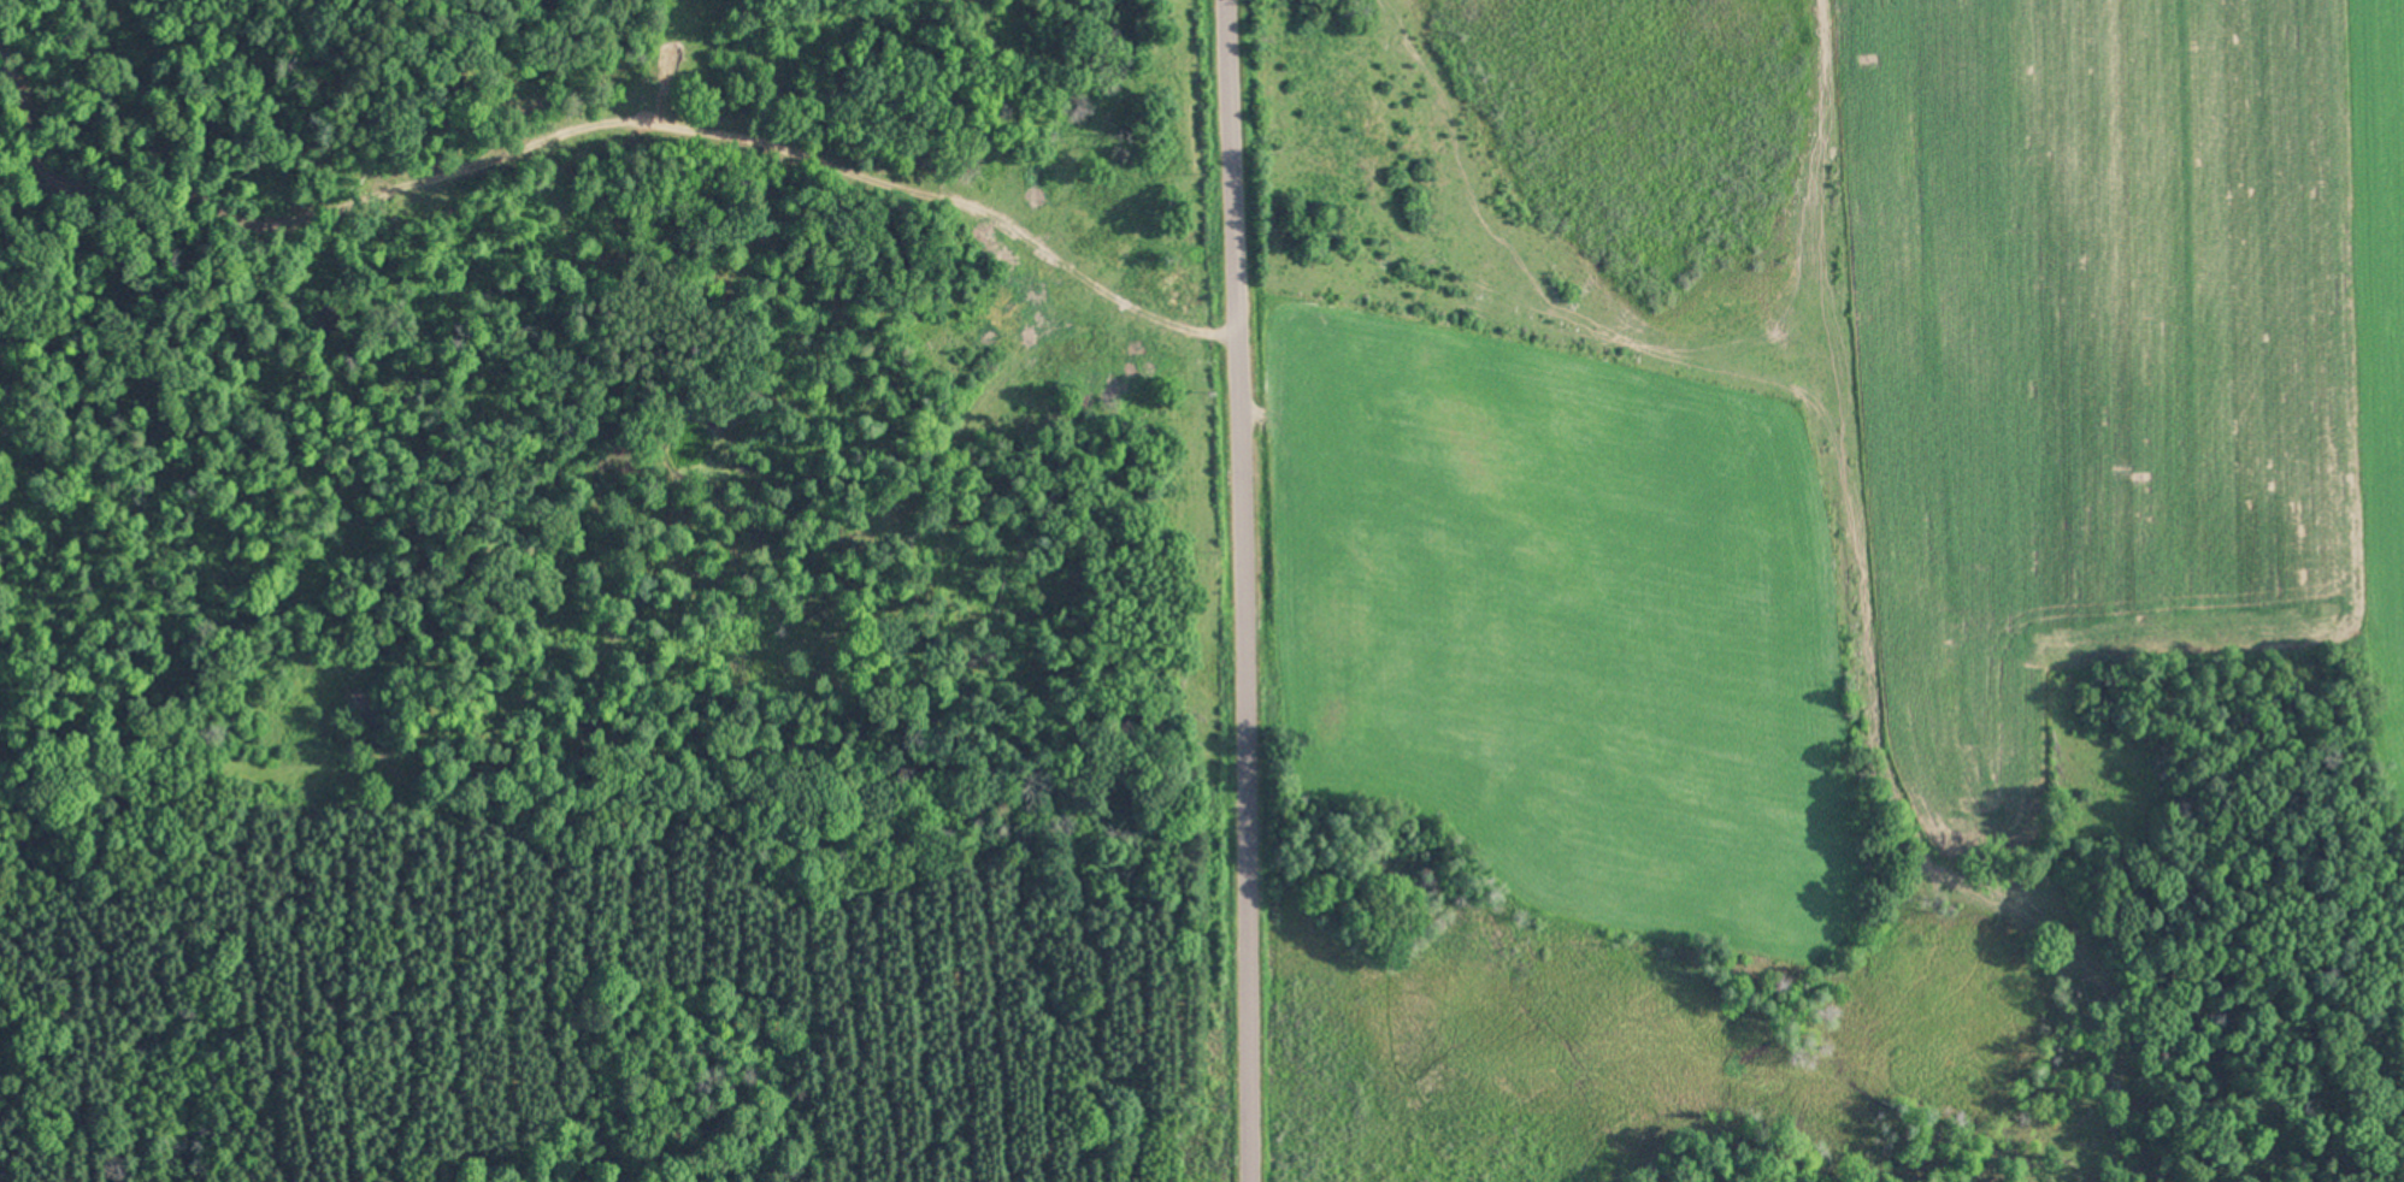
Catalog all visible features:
road: (1247, 591)

